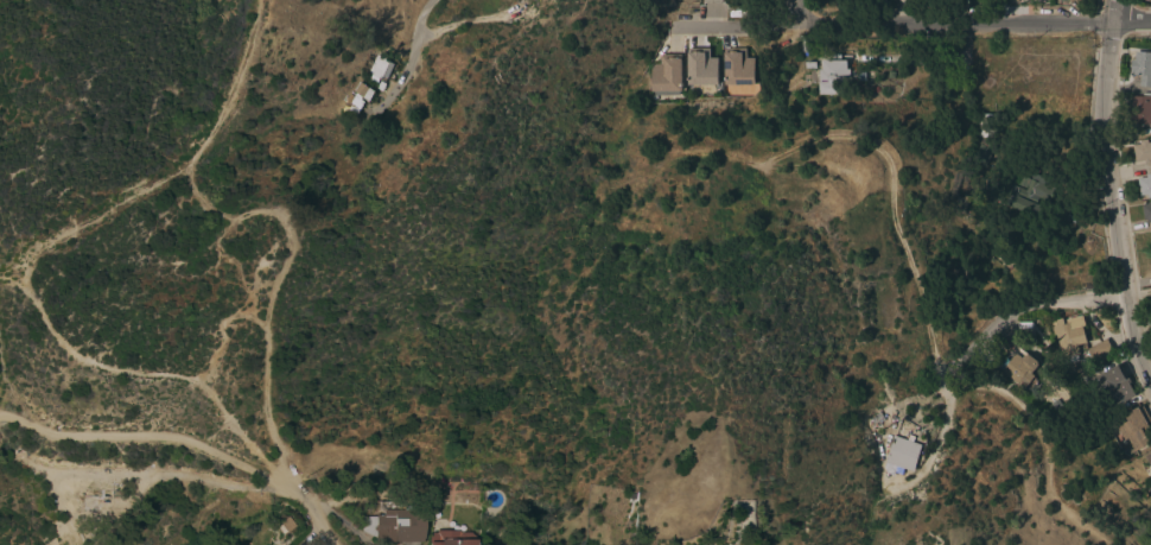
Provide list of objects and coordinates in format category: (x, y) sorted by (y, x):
building: (1013, 0)
building: (711, 1)
road: (799, 11)
road: (777, 13)
road: (1131, 20)
road: (945, 21)
road: (723, 26)
road: (406, 59)
building: (379, 68)
building: (700, 68)
building: (737, 68)
building: (1142, 68)
building: (666, 74)
building: (832, 75)
building: (362, 91)
building: (352, 101)
building: (1139, 109)
building: (986, 126)
road: (875, 138)
building: (1142, 151)
building: (980, 157)
road: (189, 185)
building: (1144, 185)
road: (1107, 194)
building: (1030, 195)
building: (955, 196)
building: (1146, 211)
building: (952, 246)
road: (1020, 305)
building: (1068, 335)
building: (1098, 351)
building: (1019, 367)
road: (132, 369)
building: (1113, 385)
road: (14, 398)
road: (271, 403)
building: (875, 419)
building: (1132, 430)
road: (142, 436)
road: (1045, 441)
building: (901, 454)
building: (1149, 460)
road: (140, 473)
road: (789, 482)
building: (96, 500)
road: (310, 511)
building: (286, 524)
building: (393, 525)
building: (1149, 537)
building: (451, 538)

